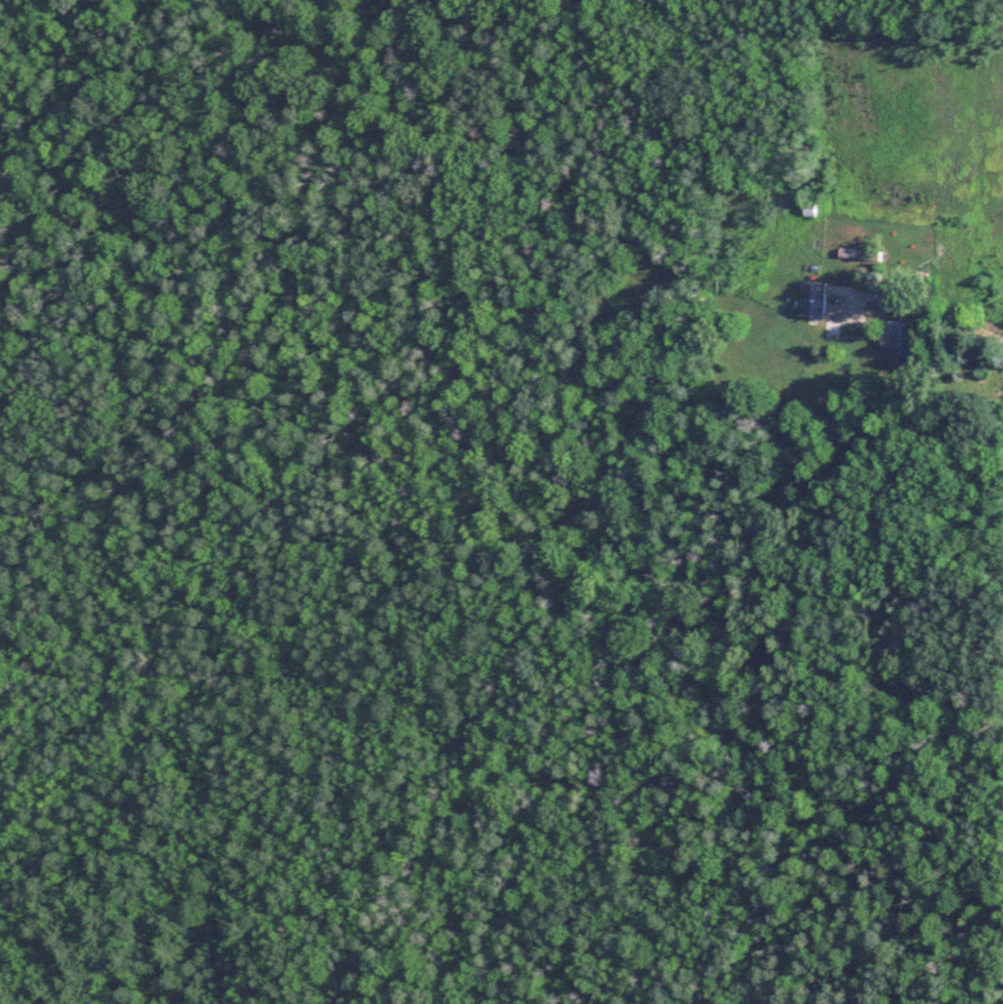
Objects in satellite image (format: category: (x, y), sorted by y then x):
building: (811, 300)
road: (924, 303)
building: (896, 337)

